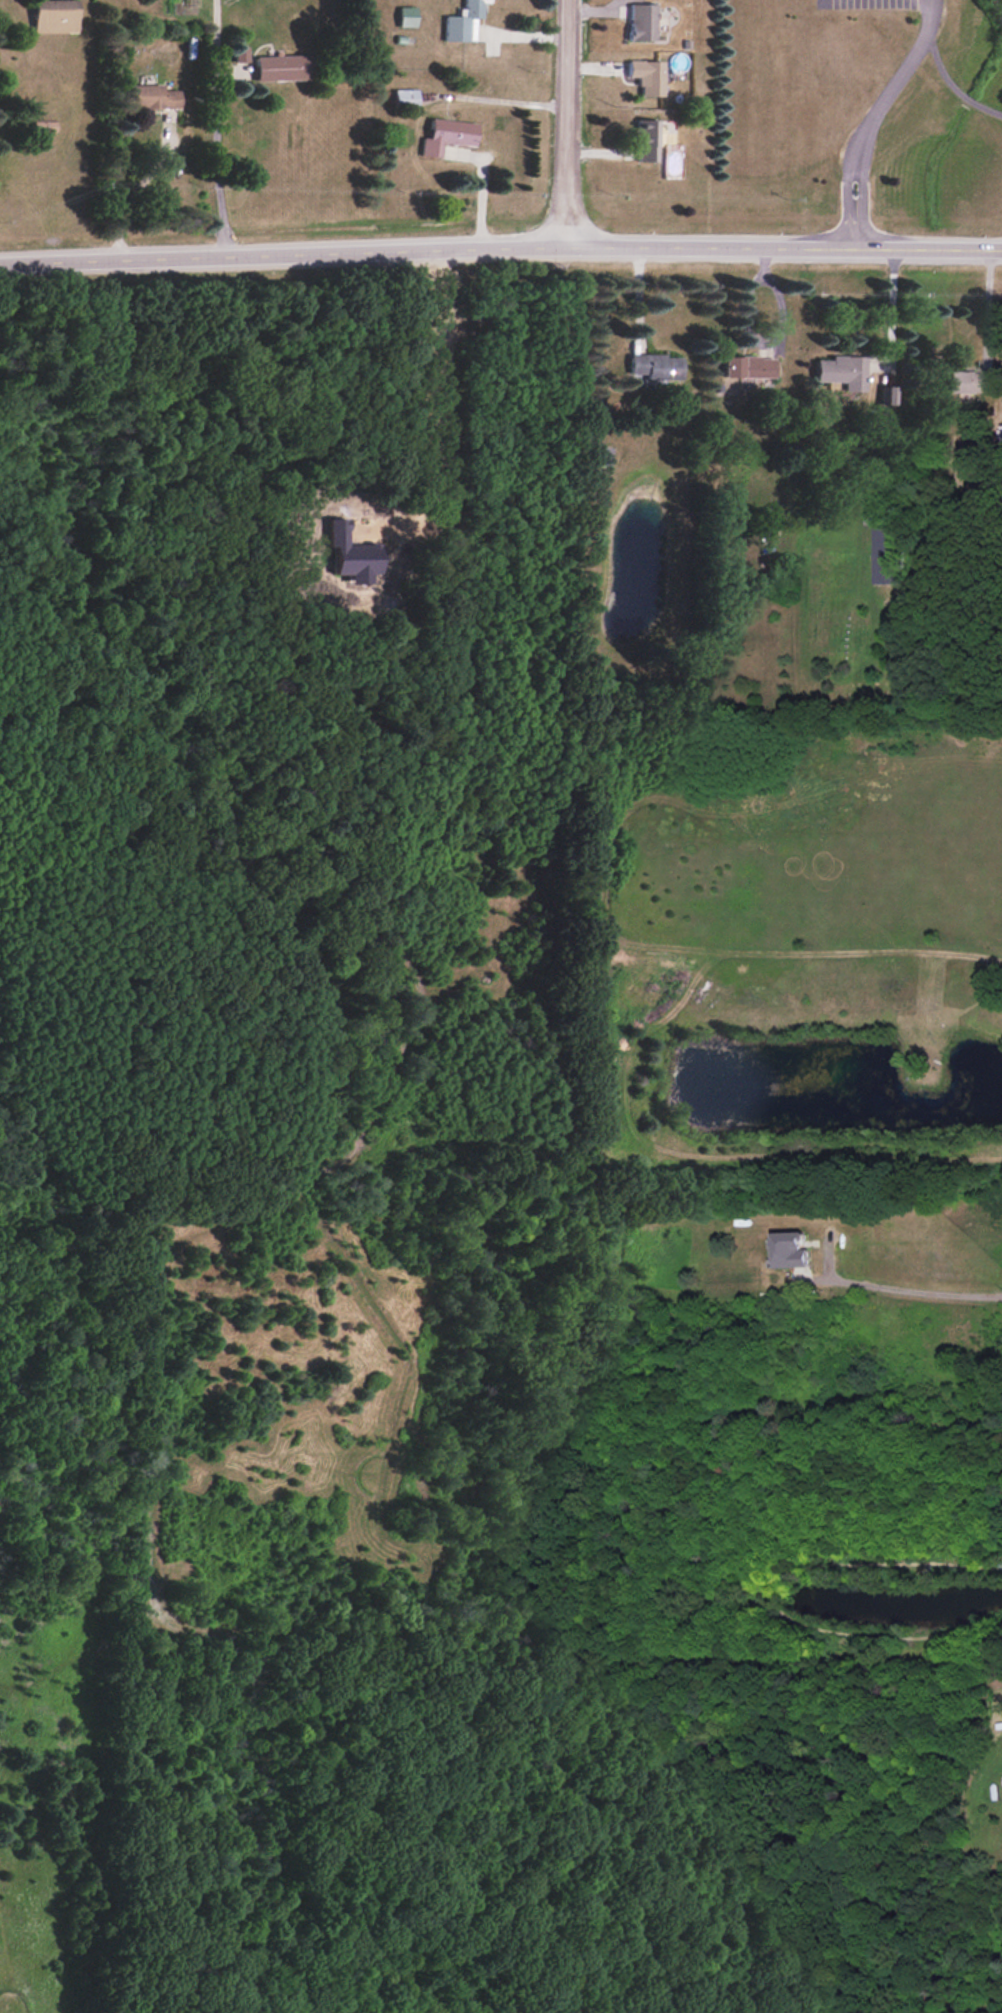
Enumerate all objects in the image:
building: (53, 16)
building: (405, 16)
building: (462, 21)
building: (640, 21)
building: (239, 54)
building: (280, 67)
building: (646, 76)
road: (952, 93)
building: (150, 96)
building: (404, 97)
road: (878, 118)
road: (565, 121)
building: (42, 127)
road: (211, 128)
building: (446, 135)
building: (645, 140)
road: (138, 187)
road: (500, 246)
road: (778, 296)
road: (638, 297)
road: (984, 306)
road: (889, 308)
building: (747, 366)
building: (653, 369)
building: (840, 371)
building: (970, 381)
building: (887, 395)
building: (602, 455)
building: (767, 522)
building: (886, 555)
building: (791, 1250)
road: (915, 1297)

